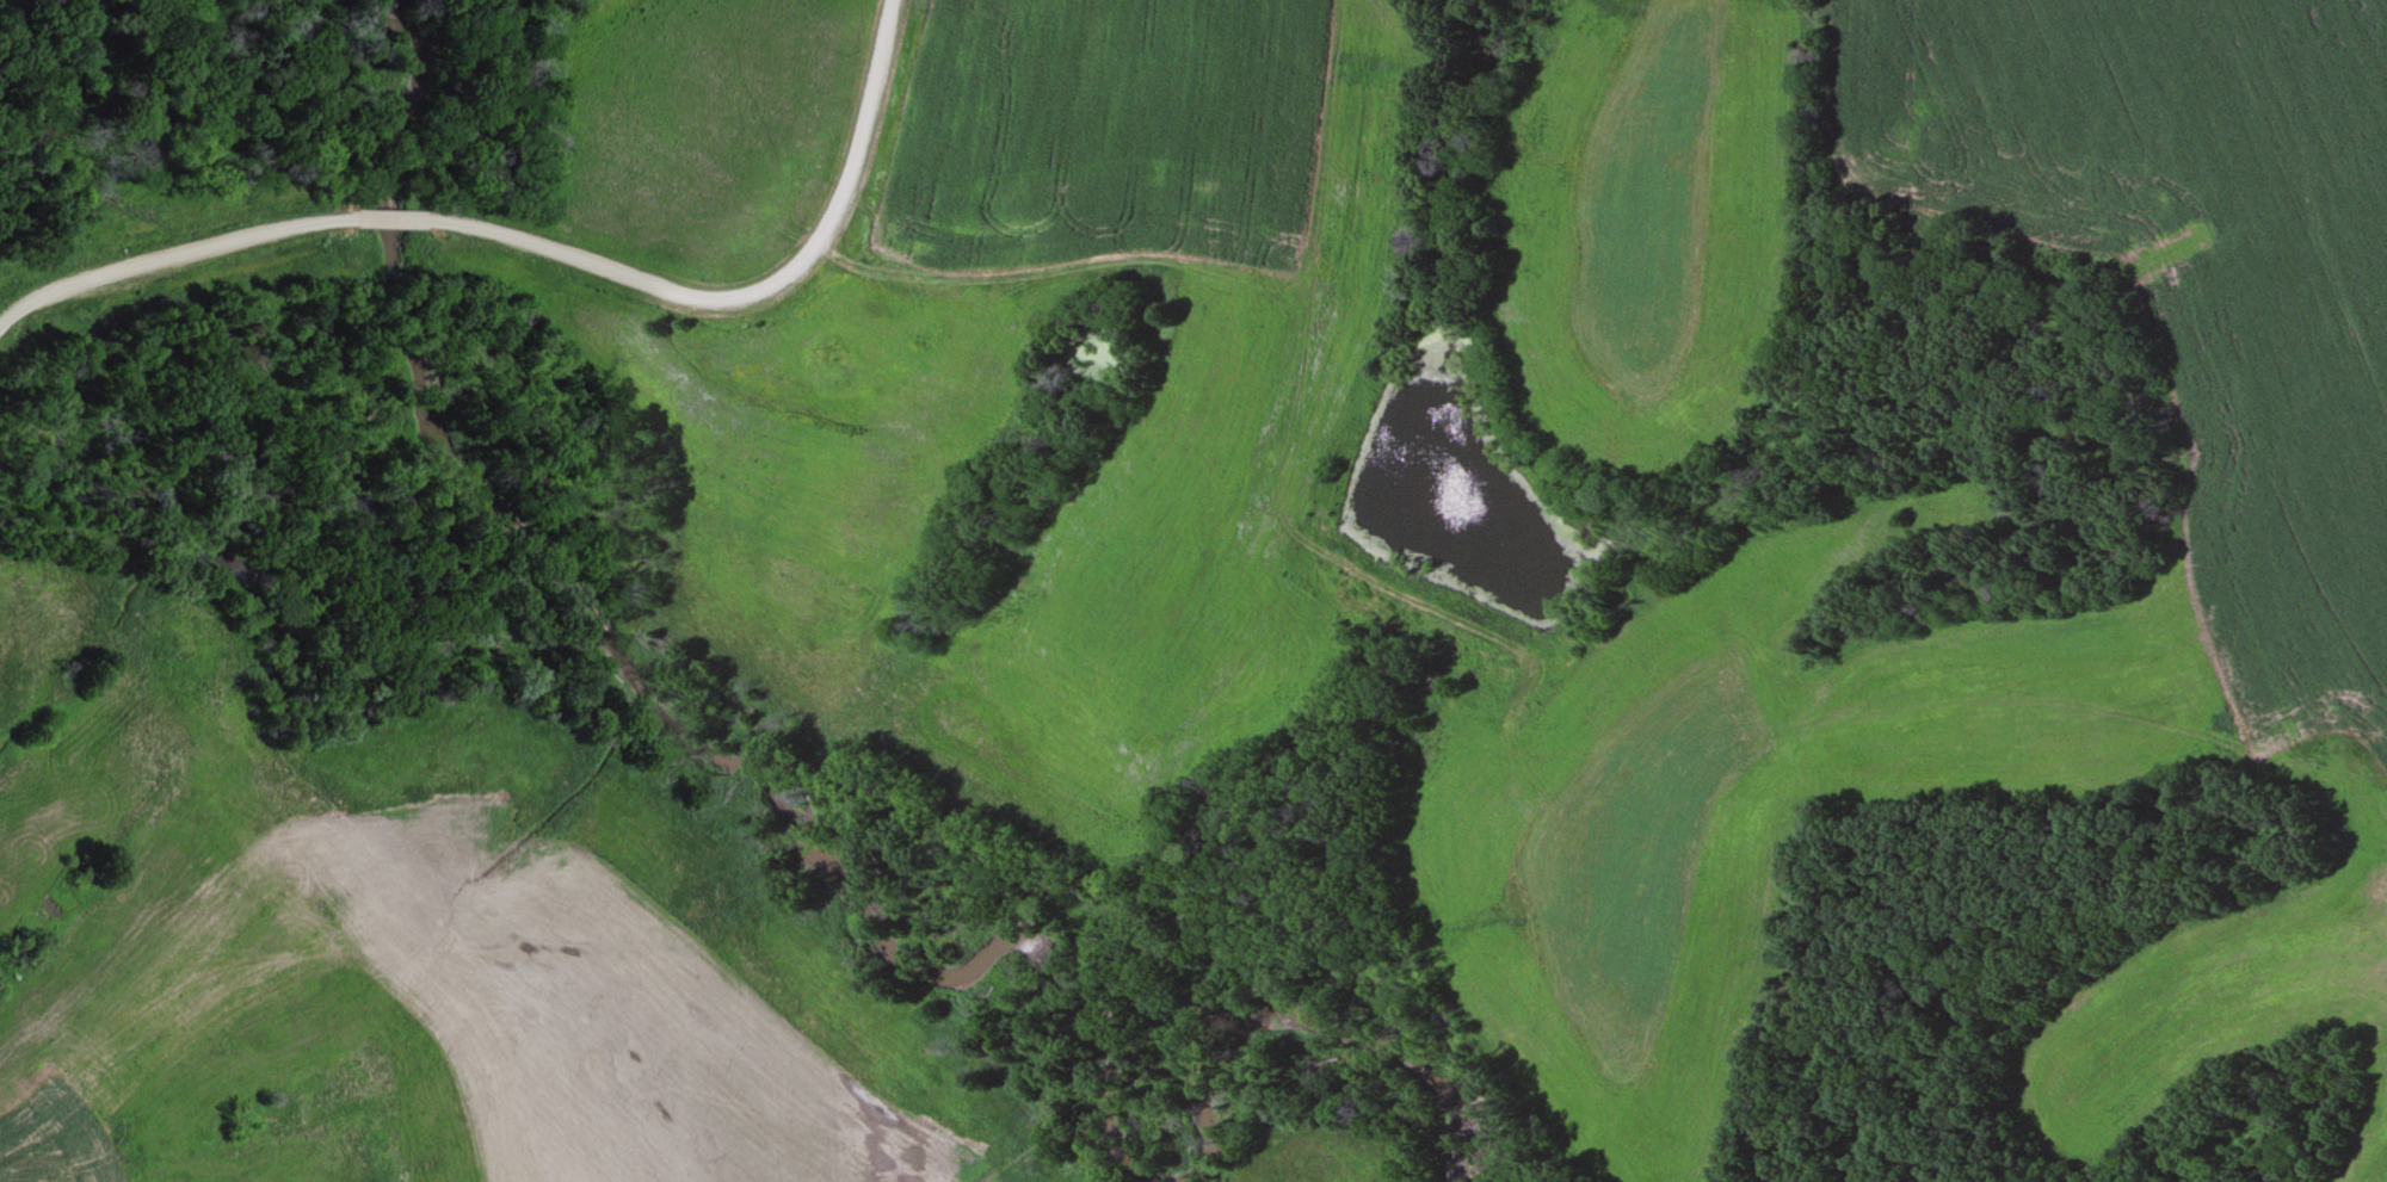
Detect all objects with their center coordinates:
road: (542, 248)

